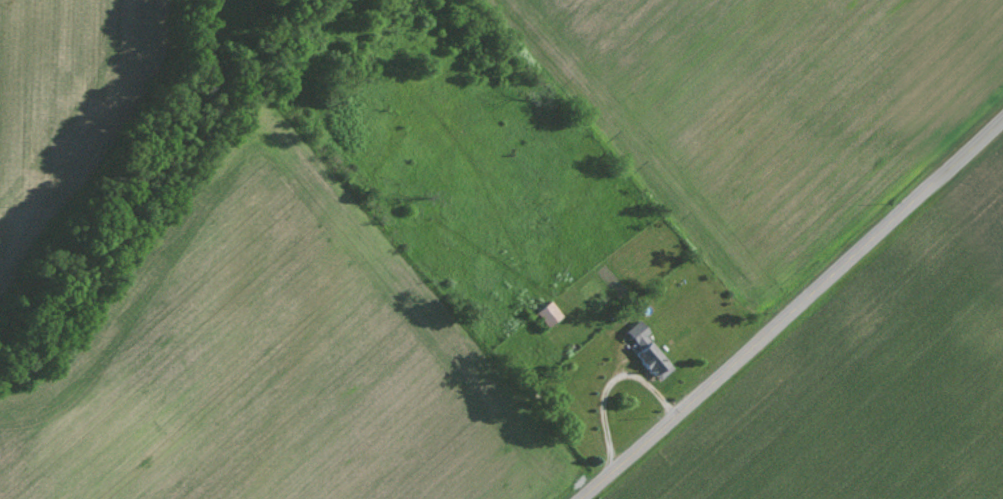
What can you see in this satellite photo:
road: (794, 309)
building: (551, 313)
building: (650, 350)

